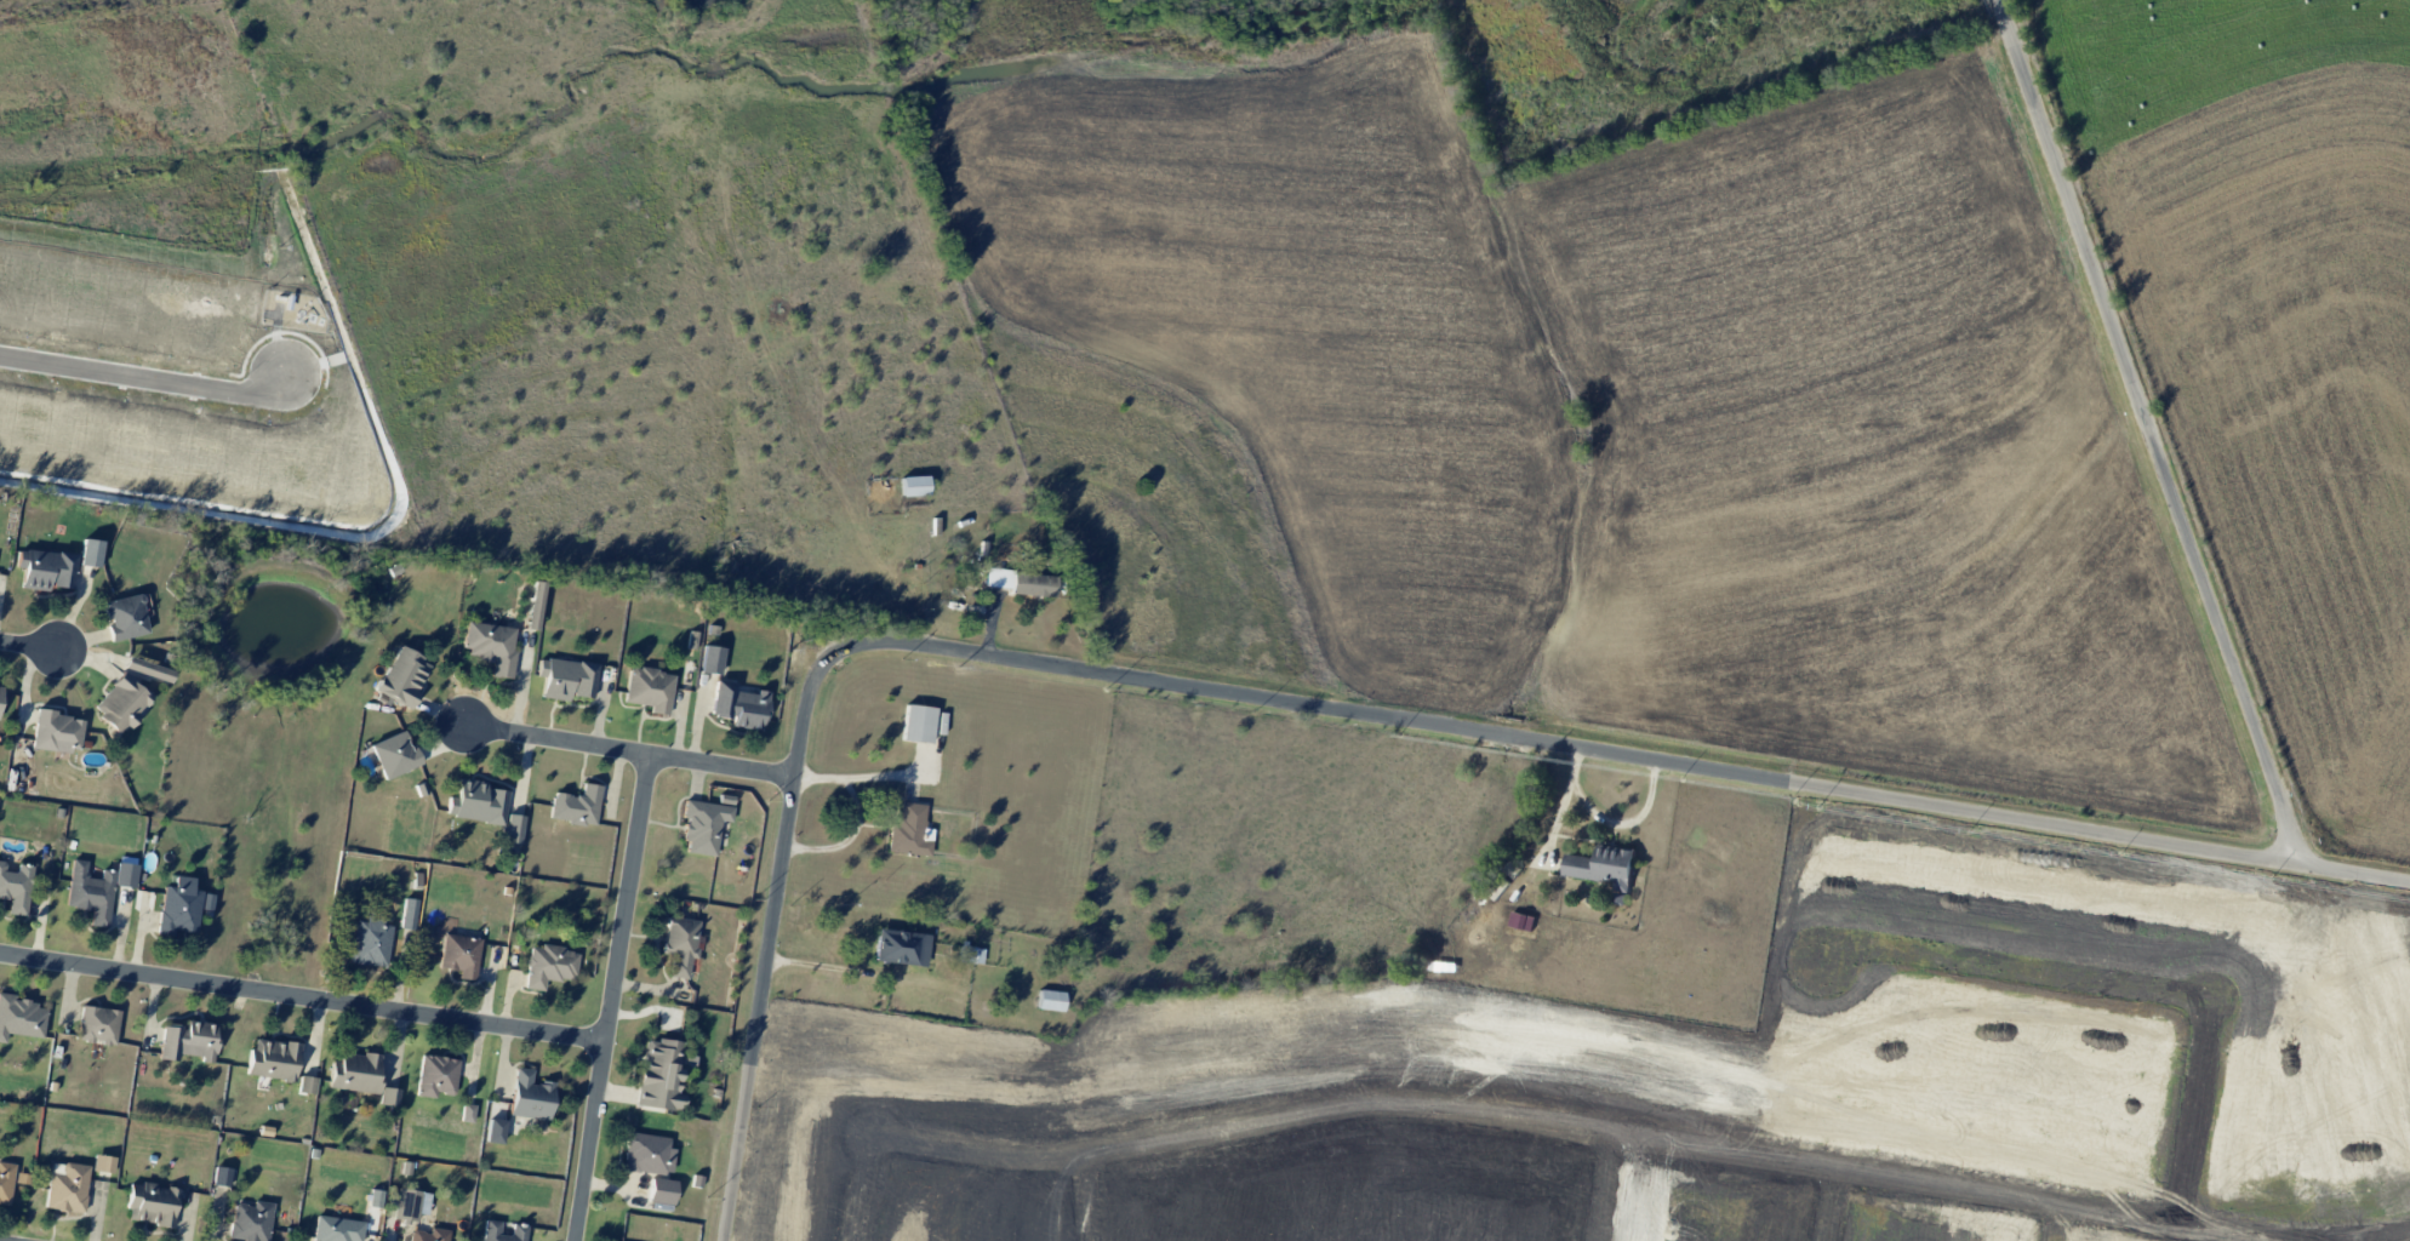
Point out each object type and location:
road: (150, 382)
road: (2147, 434)
building: (996, 577)
building: (125, 618)
building: (490, 646)
road: (27, 647)
building: (148, 669)
building: (402, 676)
building: (565, 677)
building: (0, 691)
building: (649, 700)
building: (121, 702)
building: (741, 709)
road: (1325, 710)
building: (916, 724)
building: (57, 732)
road: (630, 751)
building: (393, 755)
road: (851, 776)
building: (476, 802)
building: (576, 805)
building: (703, 825)
building: (512, 829)
building: (909, 830)
road: (847, 837)
building: (1603, 867)
building: (15, 886)
building: (96, 888)
building: (178, 907)
building: (407, 913)
building: (370, 940)
building: (679, 944)
building: (901, 947)
building: (458, 955)
building: (972, 955)
building: (548, 966)
road: (822, 966)
road: (303, 994)
road: (611, 997)
building: (1051, 1000)
building: (19, 1017)
building: (97, 1024)
building: (188, 1041)
building: (272, 1059)
building: (354, 1073)
building: (435, 1075)
building: (305, 1083)
building: (530, 1096)
building: (388, 1097)
building: (467, 1113)
building: (493, 1131)
building: (647, 1154)
building: (102, 1163)
building: (221, 1176)
building: (5, 1182)
building: (65, 1186)
building: (661, 1190)
building: (150, 1203)
building: (410, 1205)
building: (250, 1222)
building: (336, 1229)
building: (491, 1229)
building: (428, 1235)

